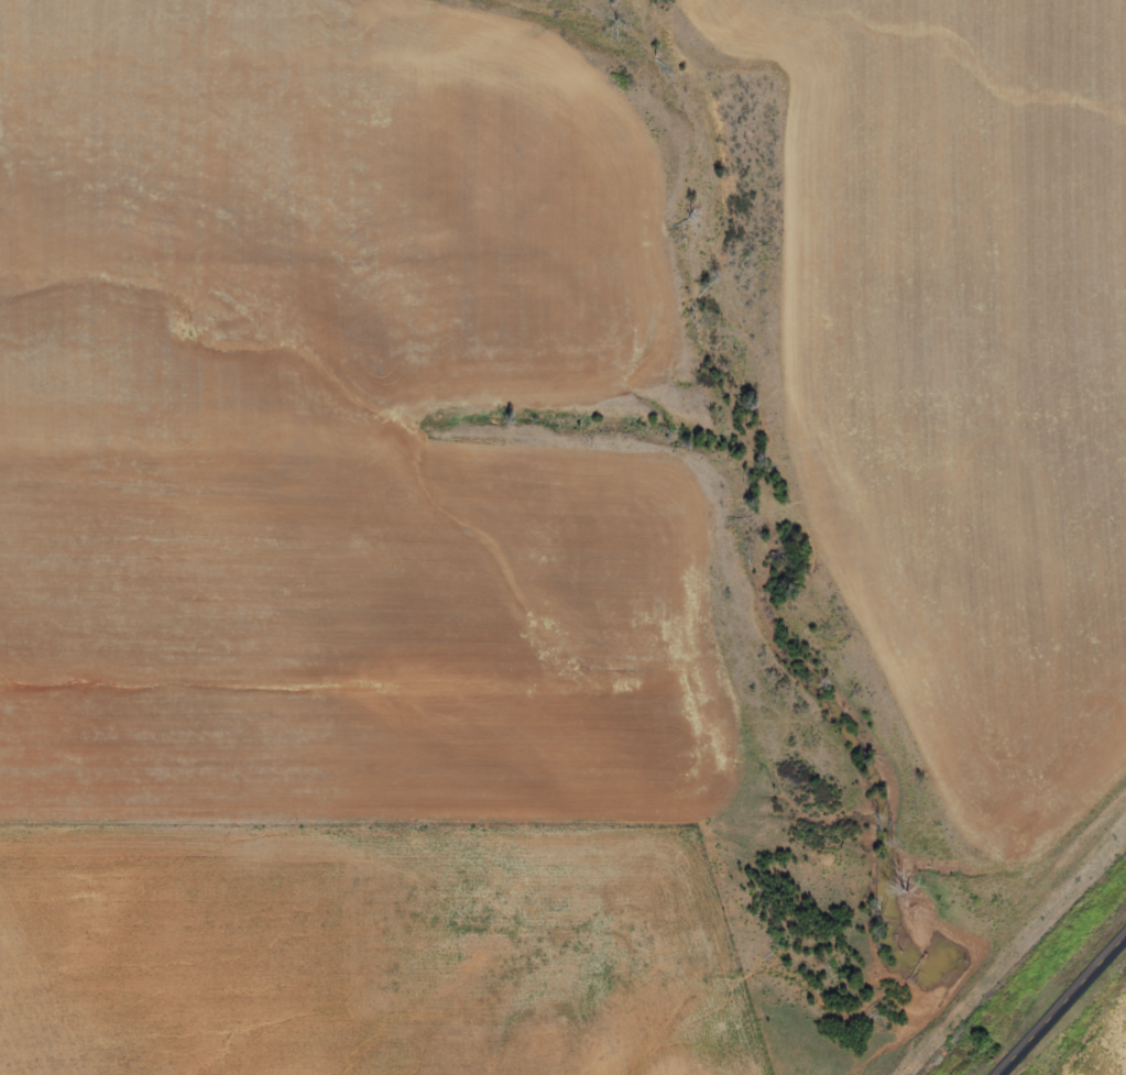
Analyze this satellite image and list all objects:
railway: (1019, 959)
road: (1063, 1007)

